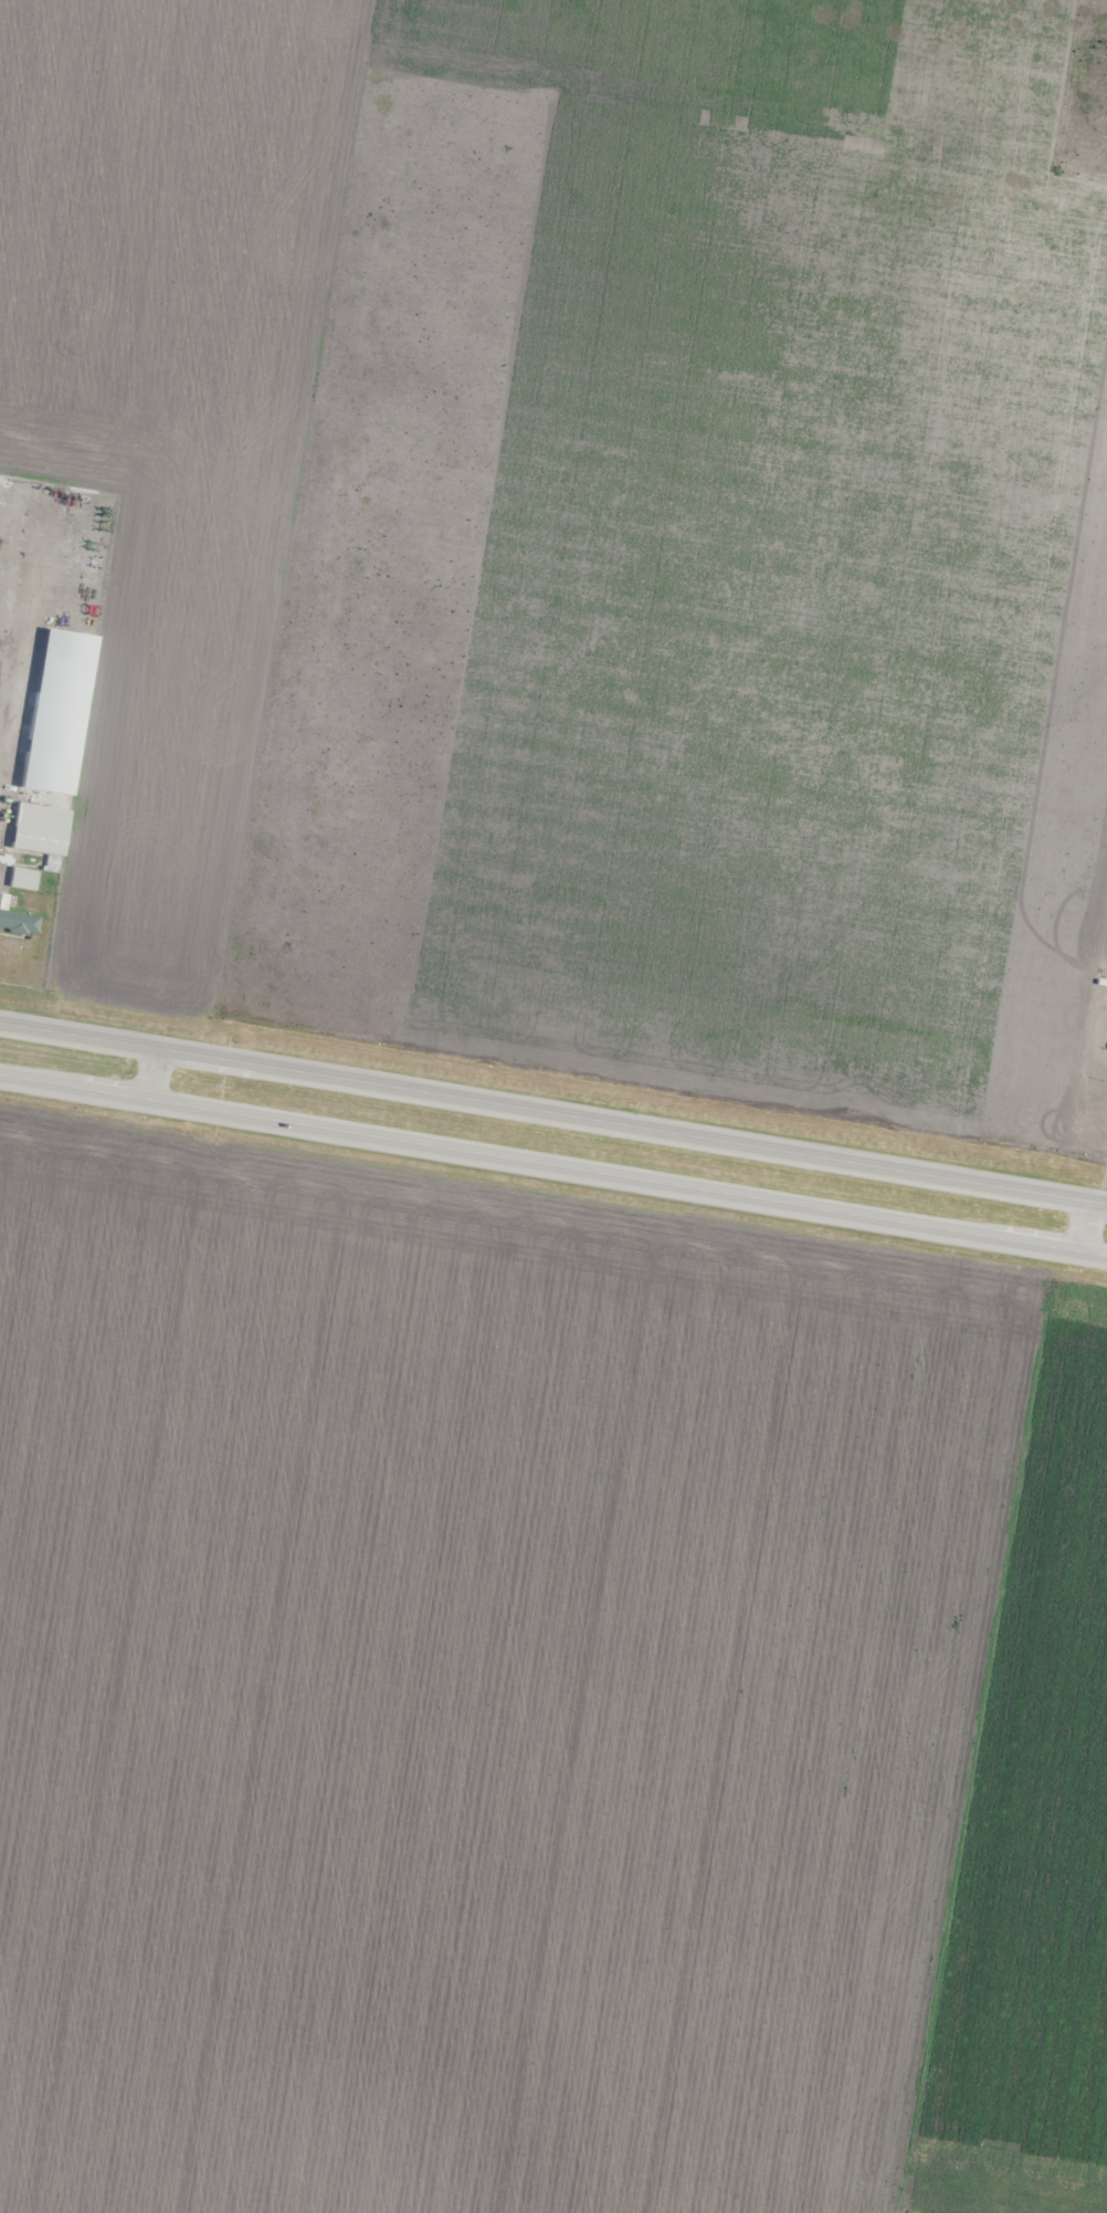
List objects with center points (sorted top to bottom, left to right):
building: (49, 782)
building: (24, 879)
building: (17, 920)
road: (151, 1073)
road: (552, 1113)
road: (553, 1165)
road: (1084, 1226)

